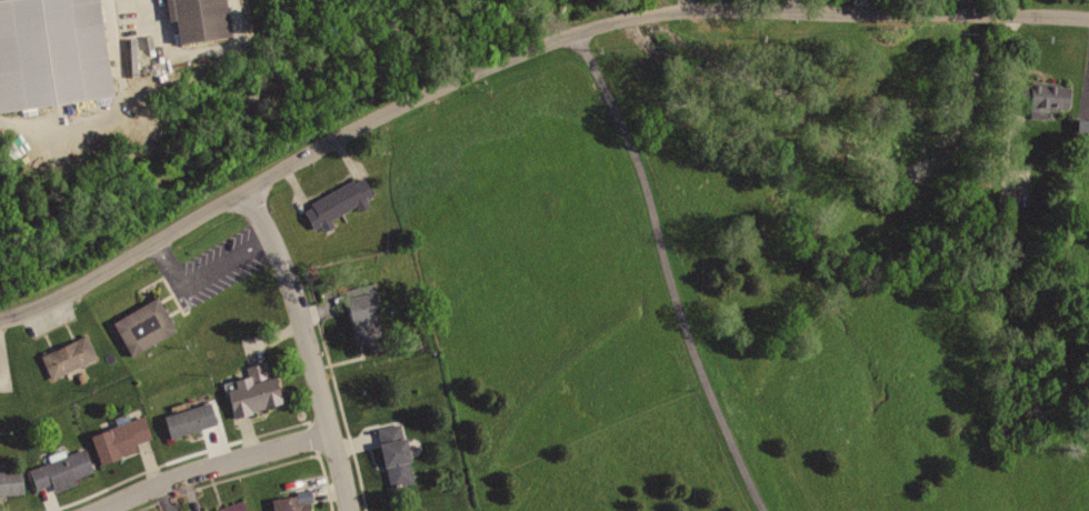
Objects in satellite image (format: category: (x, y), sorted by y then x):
road: (808, 7)
road: (981, 11)
road: (1039, 11)
road: (635, 14)
building: (203, 19)
building: (52, 51)
road: (199, 51)
building: (1045, 98)
building: (1080, 128)
road: (304, 151)
building: (340, 200)
building: (1015, 213)
road: (662, 271)
building: (367, 315)
building: (146, 323)
road: (307, 344)
building: (69, 354)
building: (256, 388)
building: (193, 415)
building: (121, 437)
building: (398, 452)
road: (204, 465)
building: (63, 467)
building: (12, 479)
building: (292, 503)
building: (230, 507)

